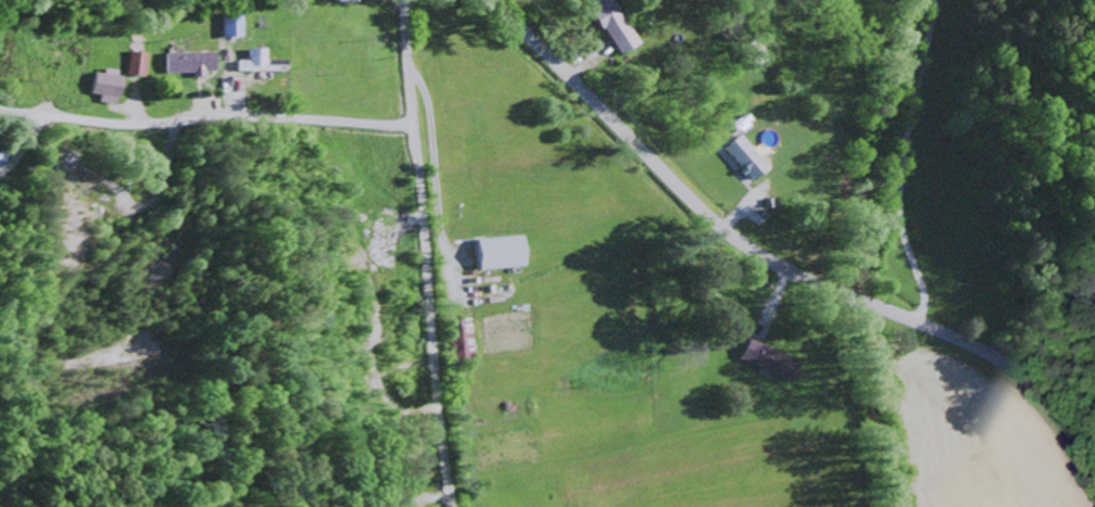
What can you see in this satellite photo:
building: (617, 25)
building: (236, 26)
building: (263, 62)
building: (141, 63)
building: (196, 63)
building: (113, 86)
road: (207, 119)
building: (751, 157)
building: (4, 159)
road: (904, 162)
road: (657, 163)
building: (506, 252)
road: (430, 253)
road: (858, 299)
building: (467, 340)
road: (1000, 358)
building: (773, 360)

